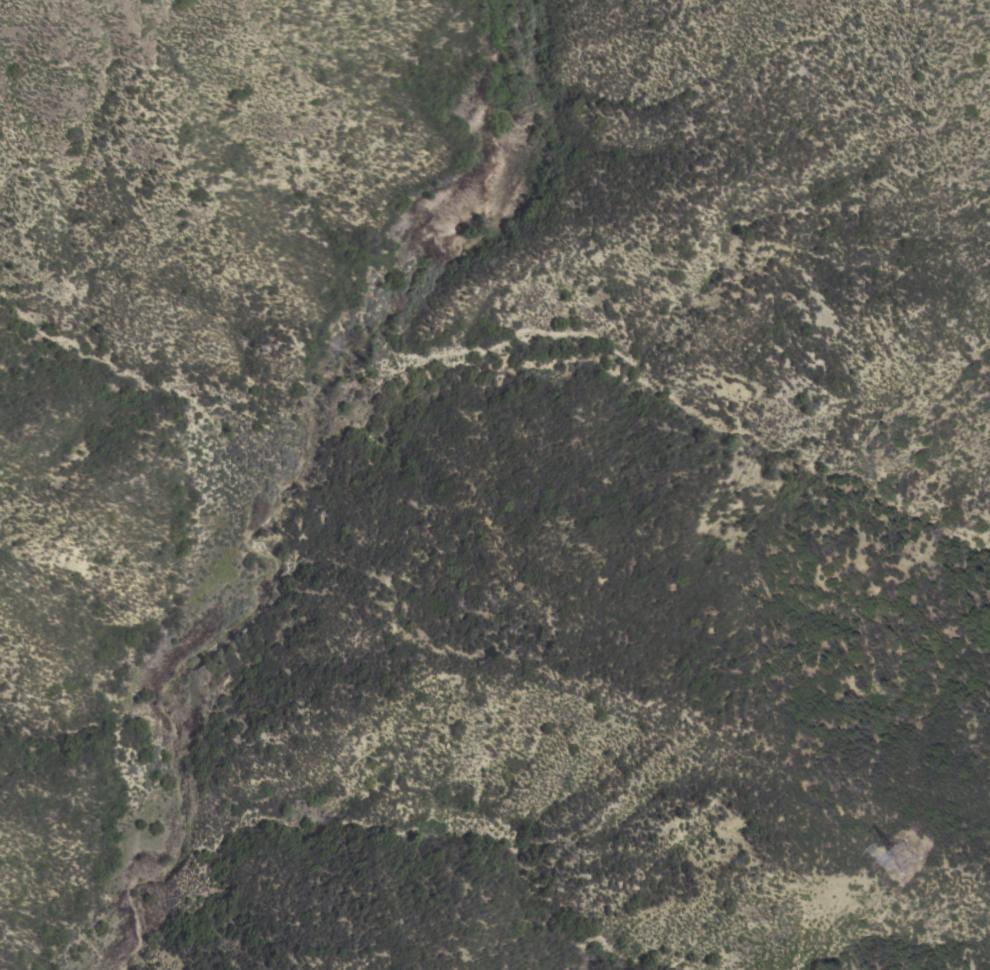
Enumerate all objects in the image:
power tower: (905, 858)

